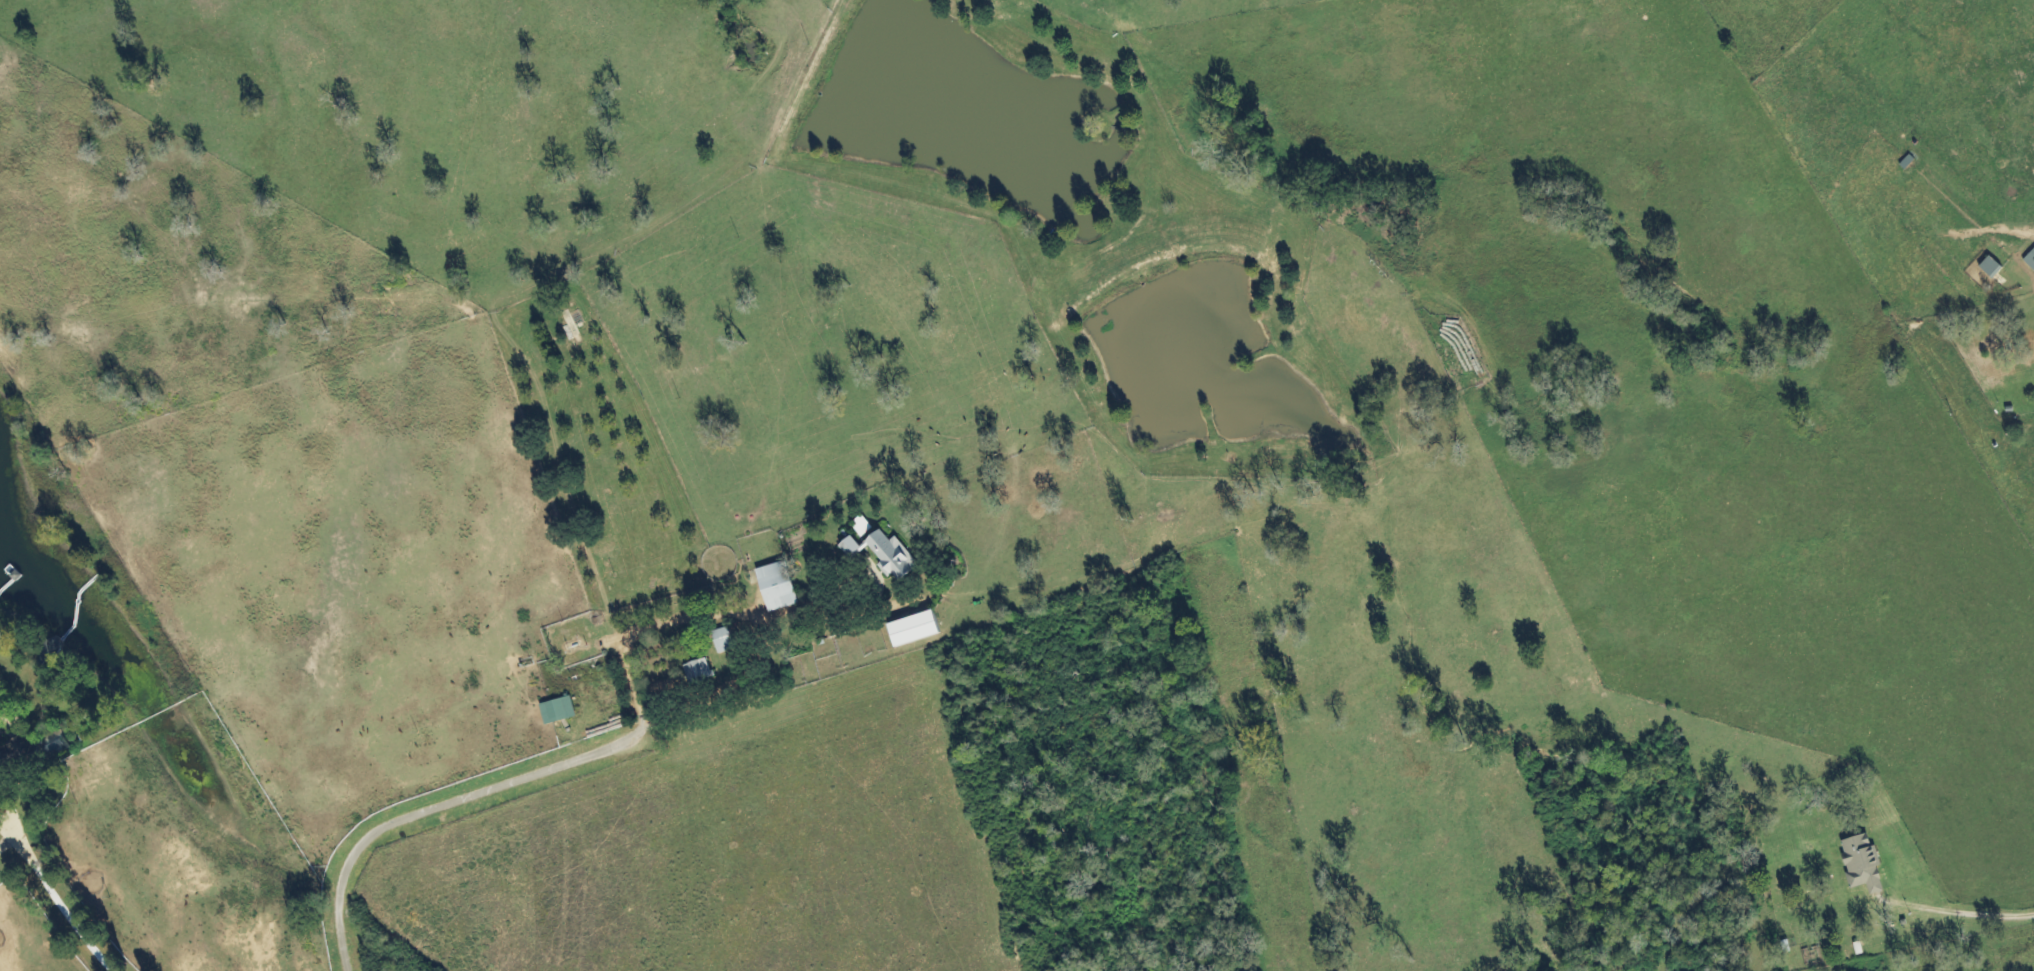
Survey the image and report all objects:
building: (2030, 261)
building: (1990, 268)
building: (883, 554)
building: (783, 586)
road: (642, 630)
building: (914, 630)
building: (703, 673)
building: (563, 711)
building: (21, 754)
building: (0, 757)
road: (436, 807)
road: (8, 843)
building: (1862, 864)
road: (48, 891)
road: (1959, 919)

